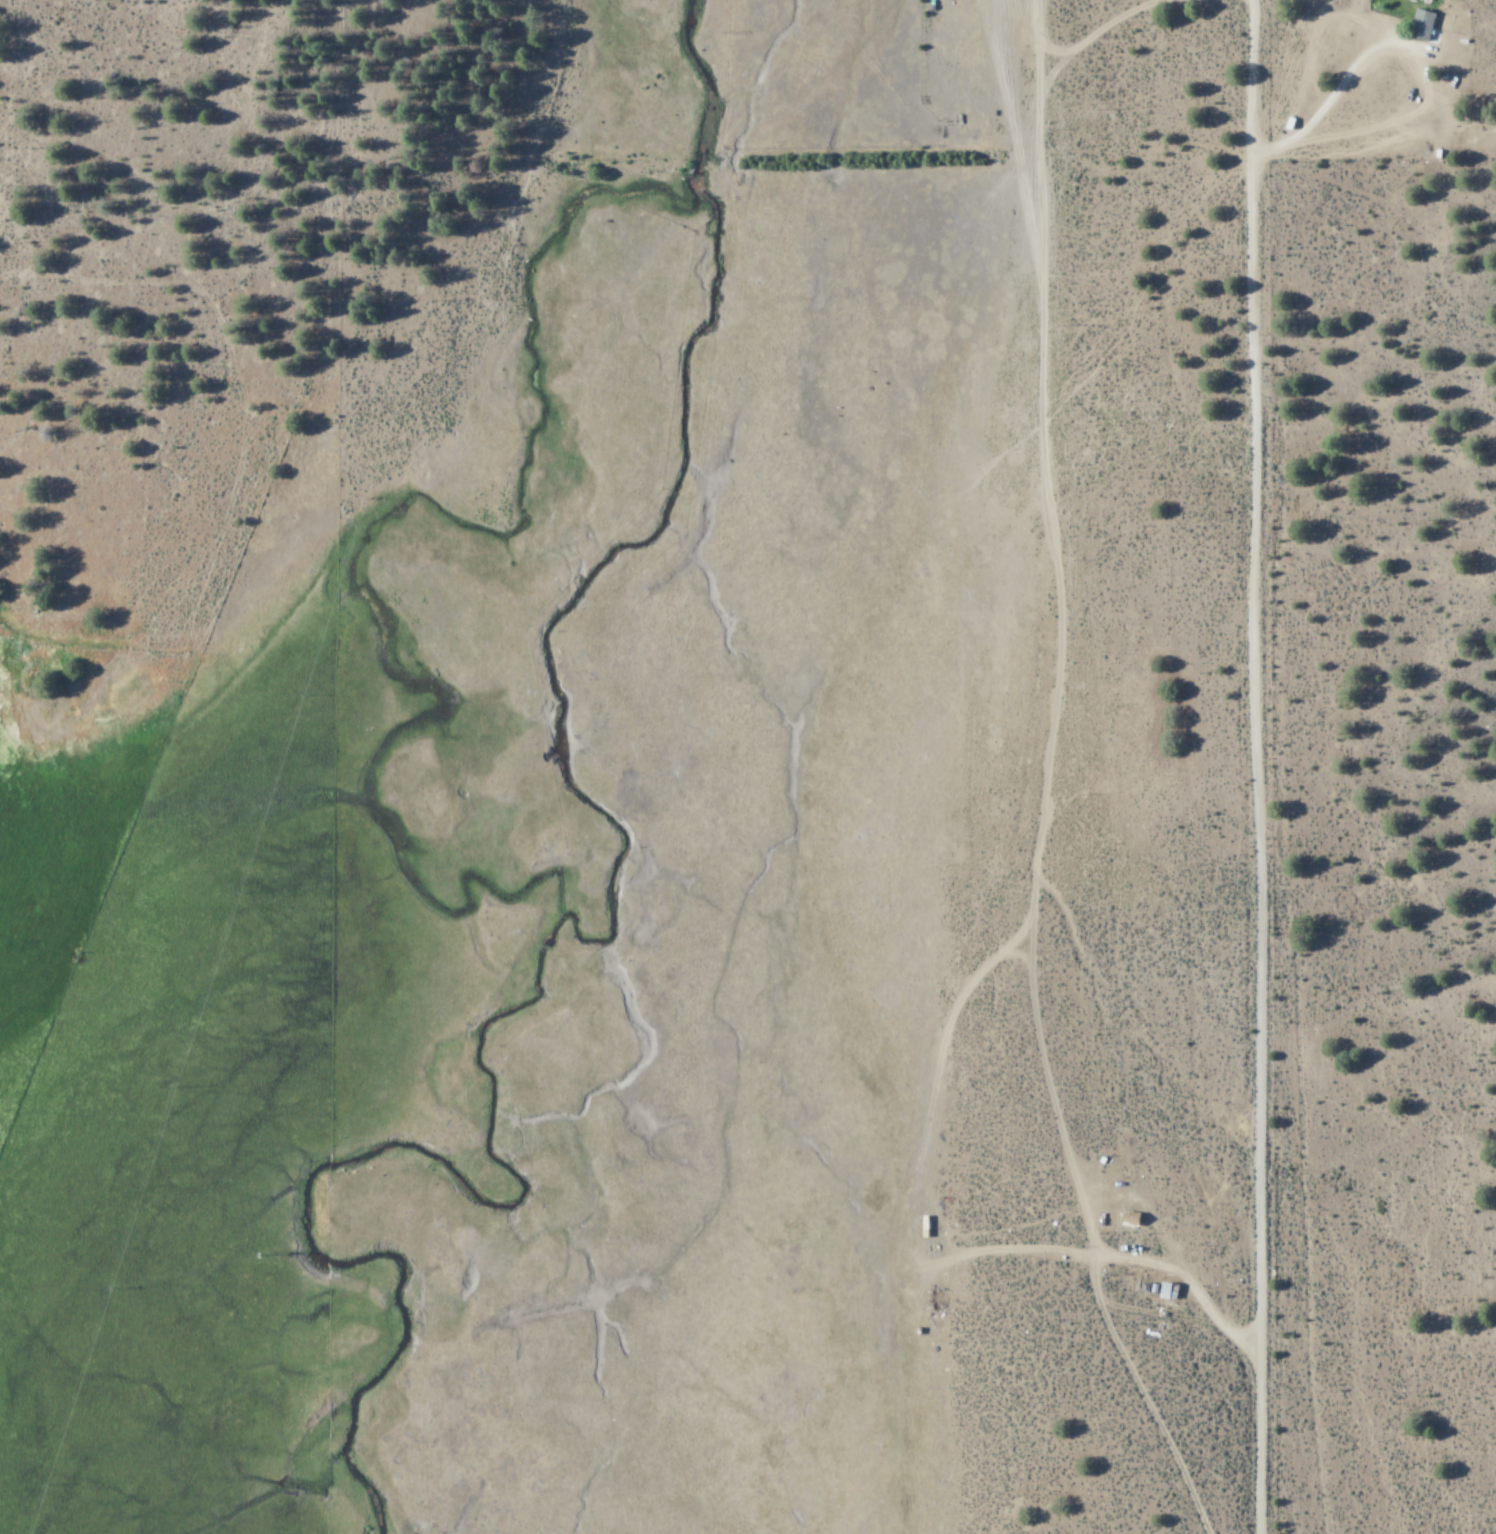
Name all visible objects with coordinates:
building: (1426, 26)
road: (1422, 88)
road: (1252, 766)
building: (1133, 1220)

